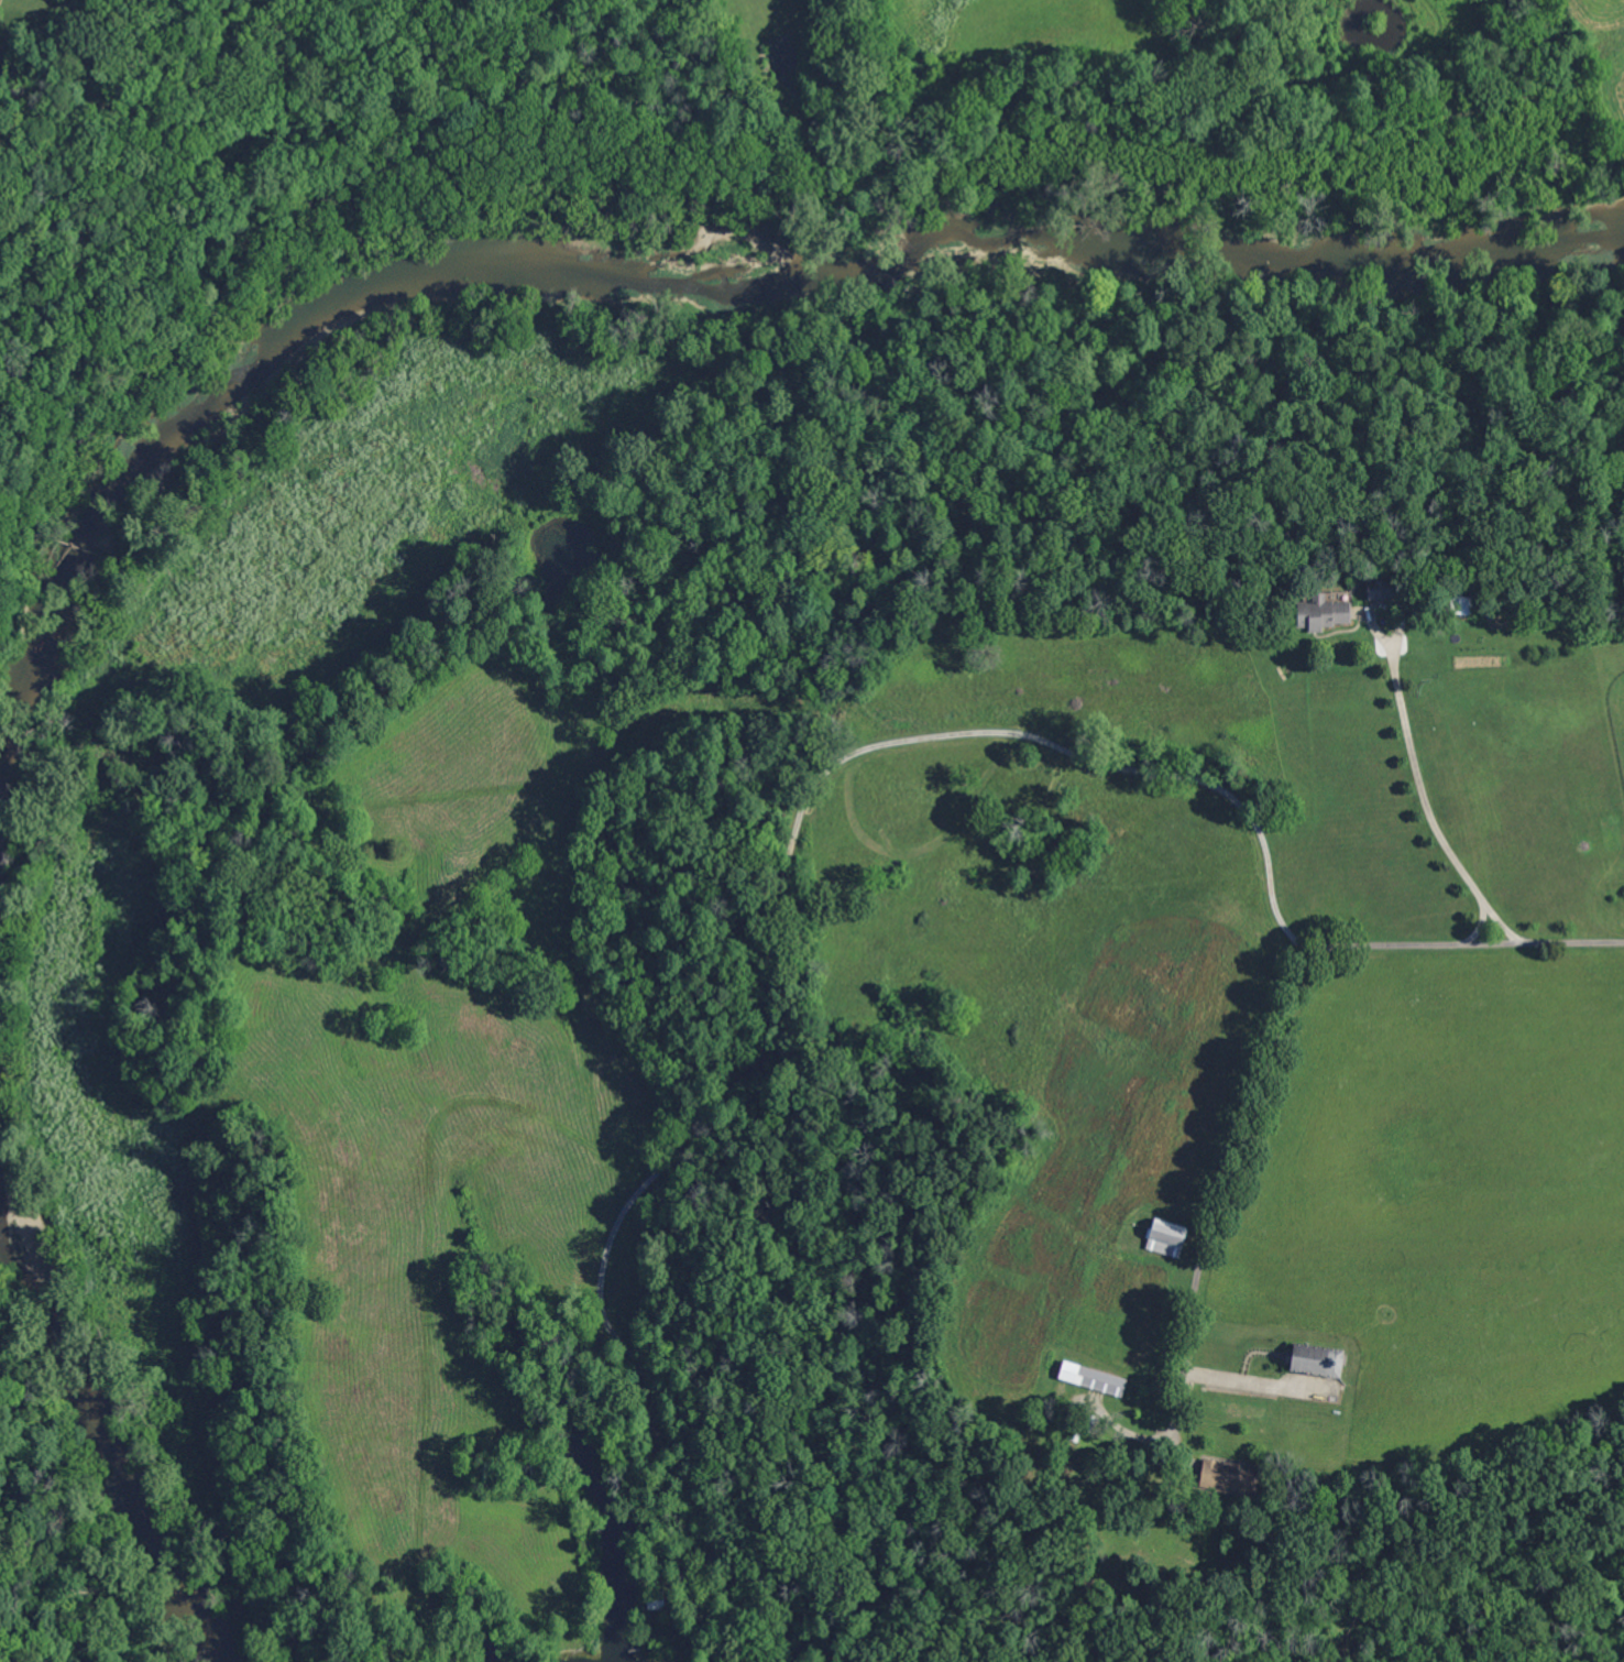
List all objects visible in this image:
road: (343, 189)
river: (632, 294)
road: (248, 328)
building: (1384, 590)
building: (1455, 602)
building: (1321, 614)
road: (1420, 770)
road: (779, 887)
road: (1492, 911)
road: (1280, 1035)
building: (1165, 1240)
building: (1318, 1360)
building: (1093, 1380)
road: (1258, 1380)
river: (119, 1388)
building: (1089, 1424)
building: (1075, 1439)
building: (1230, 1479)
road: (77, 1484)
building: (656, 1600)

